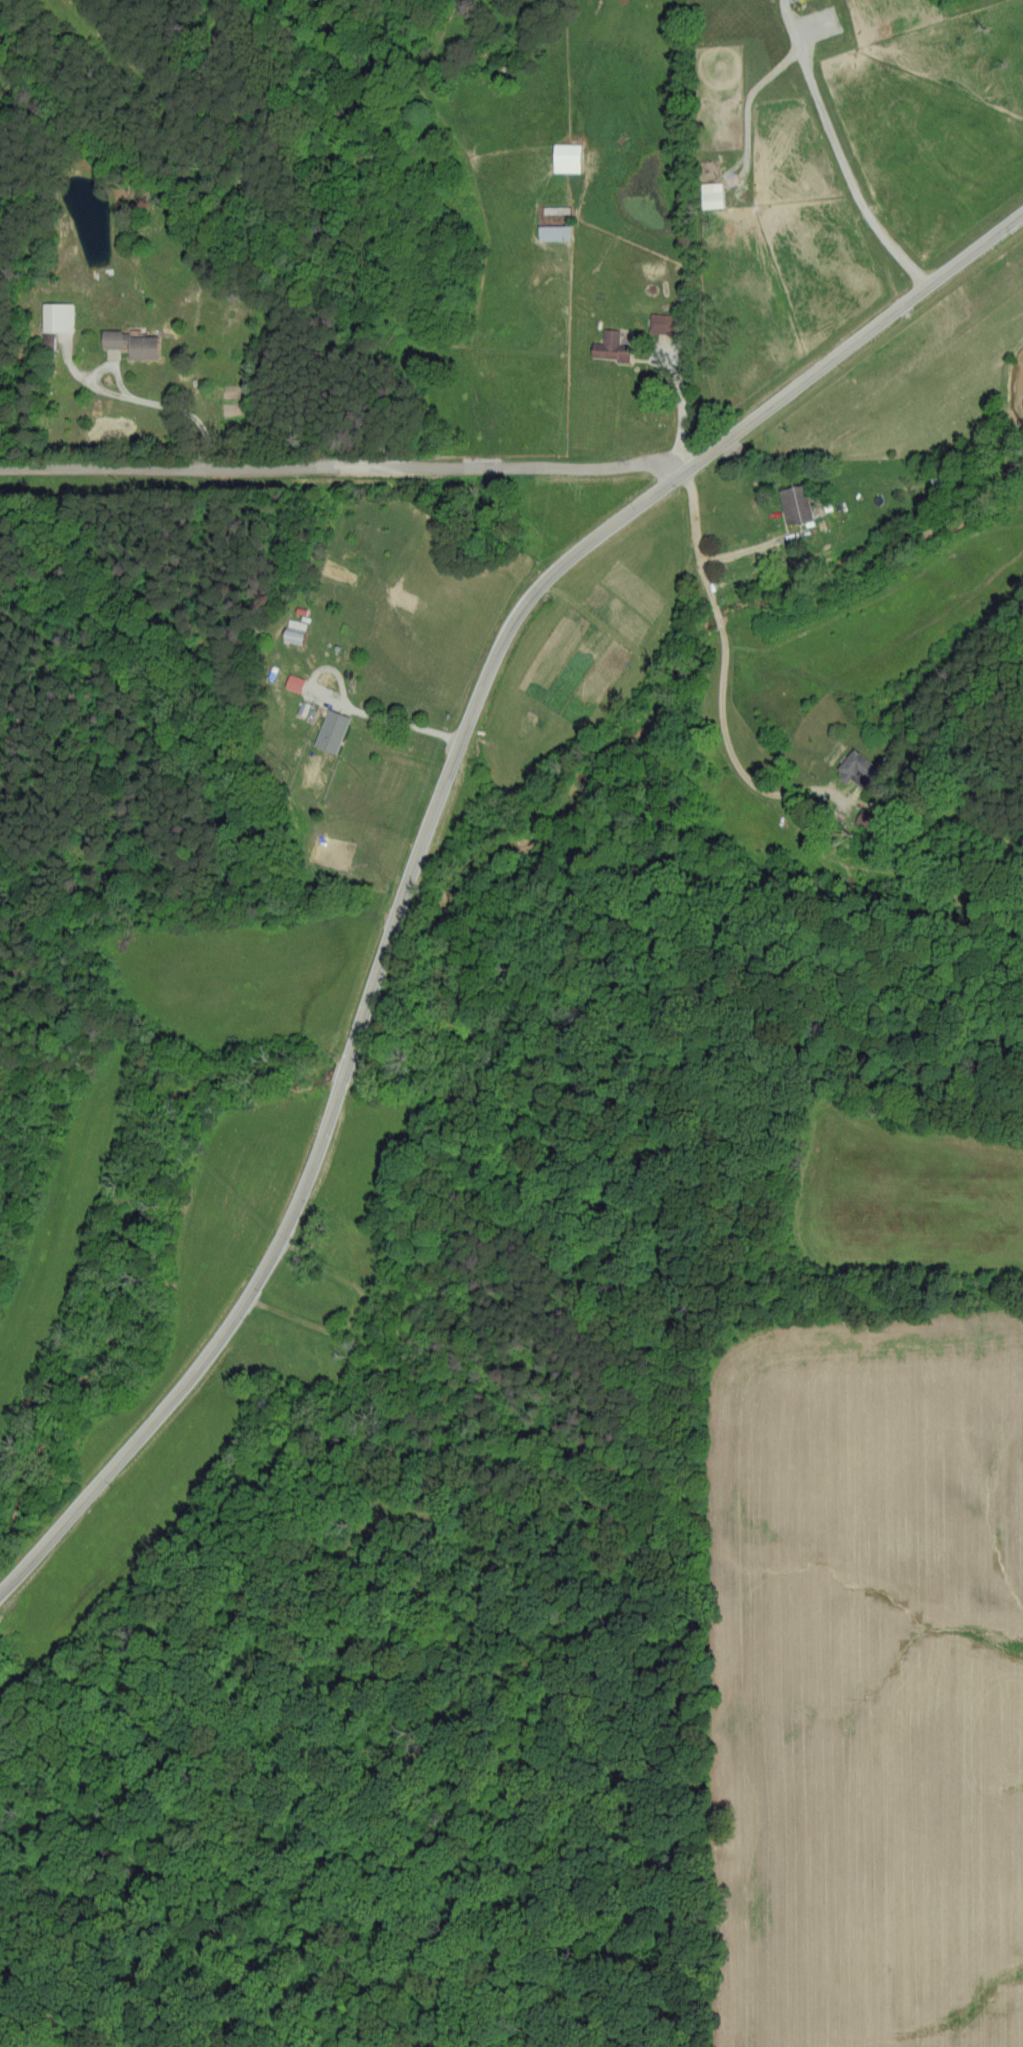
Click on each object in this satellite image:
road: (838, 150)
building: (567, 157)
building: (712, 195)
building: (555, 232)
building: (58, 315)
building: (660, 322)
building: (135, 342)
building: (610, 345)
road: (173, 407)
road: (347, 468)
building: (796, 502)
road: (722, 659)
building: (294, 682)
road: (404, 717)
building: (332, 729)
building: (857, 767)
building: (868, 817)
road: (430, 827)

